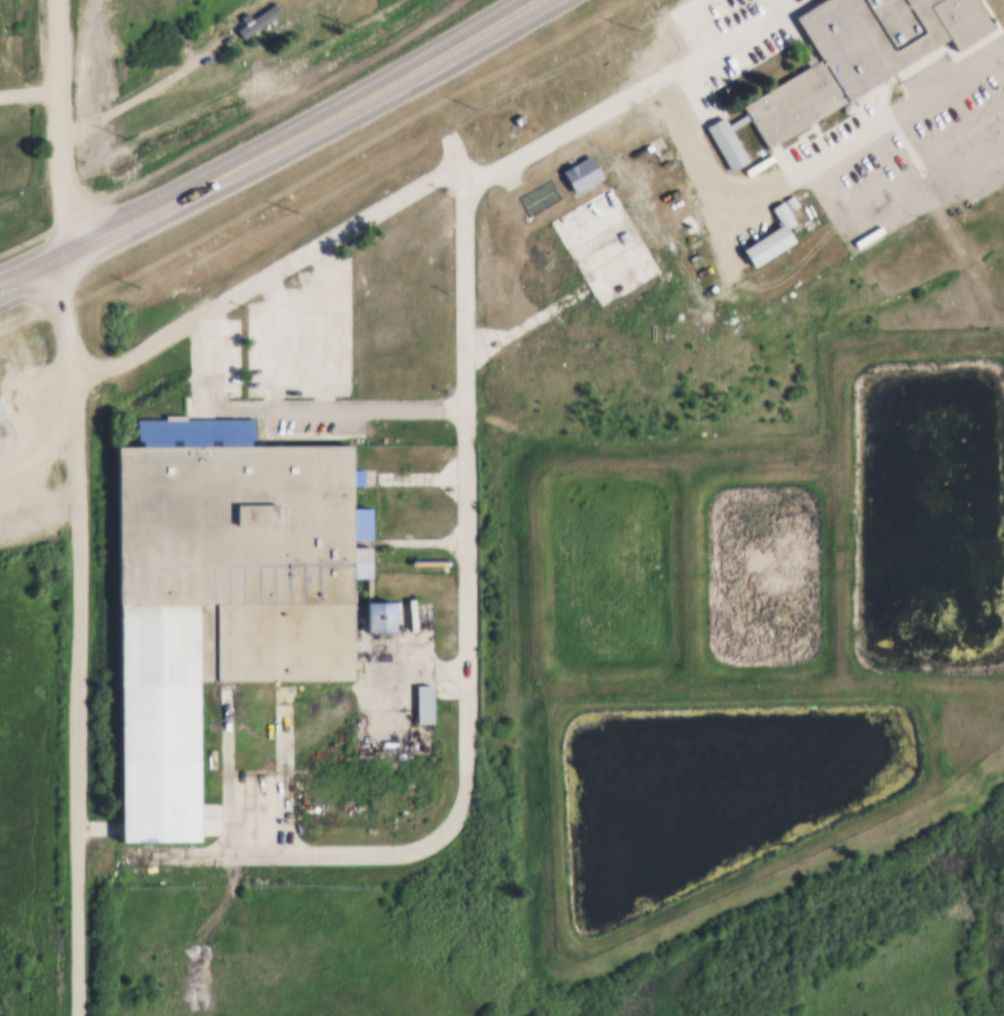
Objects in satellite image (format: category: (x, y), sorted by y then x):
building: (254, 20)
building: (858, 52)
road: (134, 93)
road: (64, 122)
road: (291, 136)
building: (729, 137)
road: (960, 153)
building: (769, 156)
road: (497, 169)
building: (792, 200)
building: (592, 219)
building: (772, 234)
road: (23, 273)
parking lot: (304, 330)
road: (142, 346)
parking lot: (219, 357)
road: (35, 417)
building: (5, 422)
building: (218, 589)
building: (377, 614)
road: (79, 636)
road: (468, 687)
building: (424, 701)

